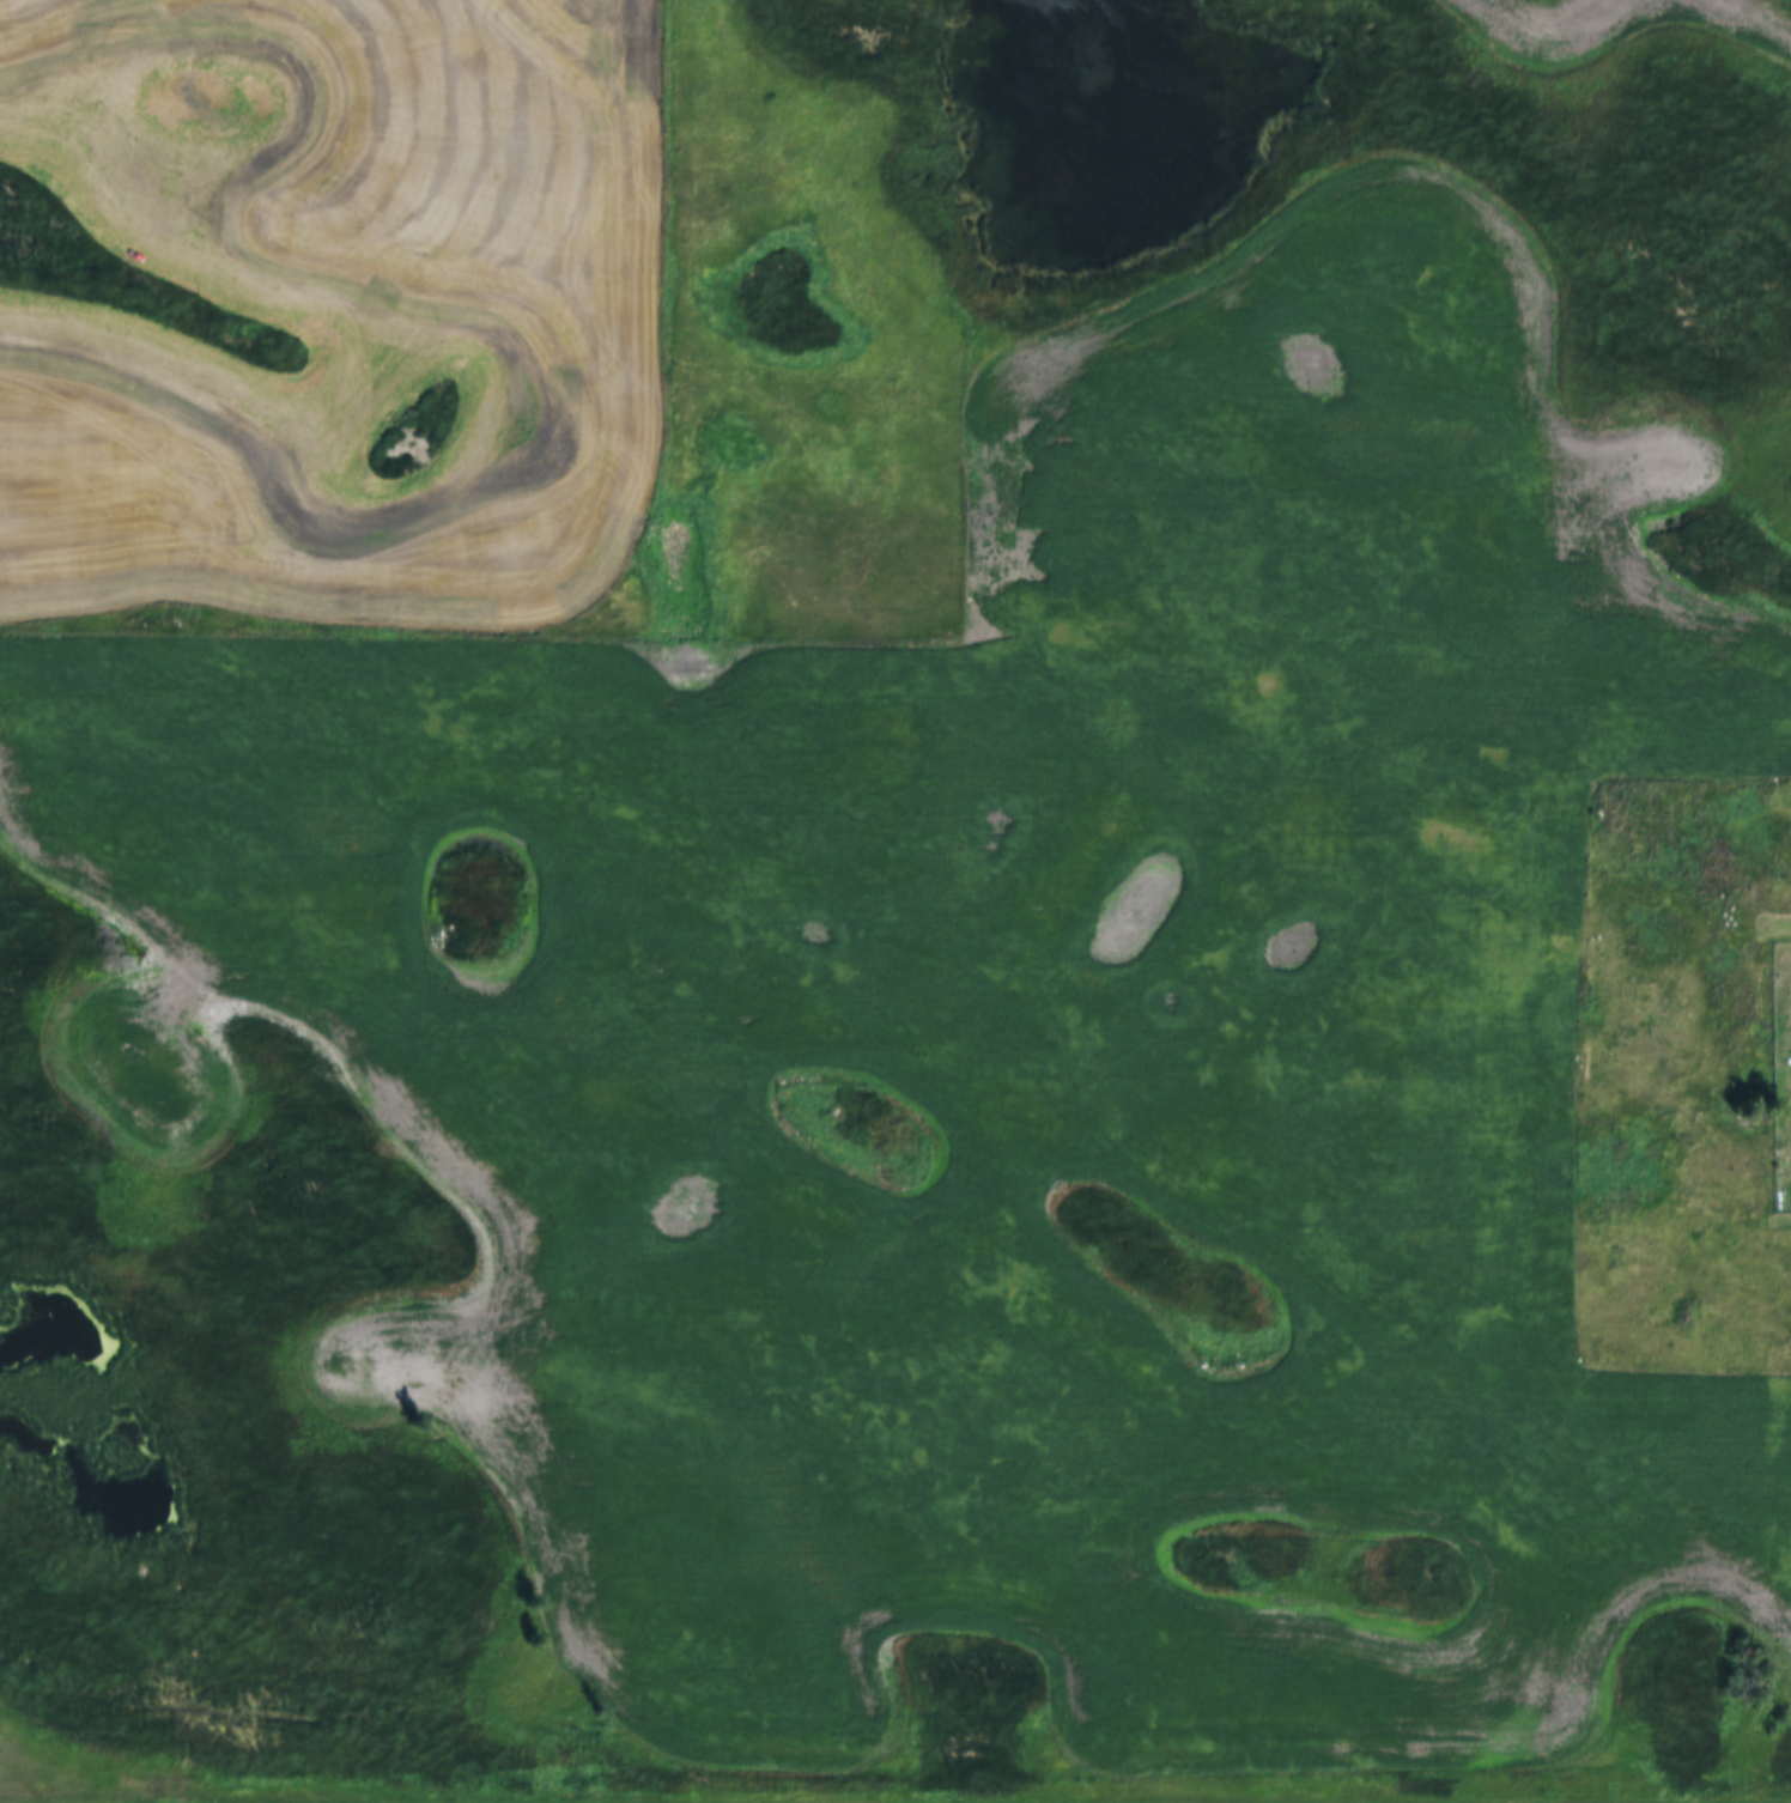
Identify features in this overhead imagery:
building: (1723, 834)
building: (1716, 845)
building: (1787, 989)

